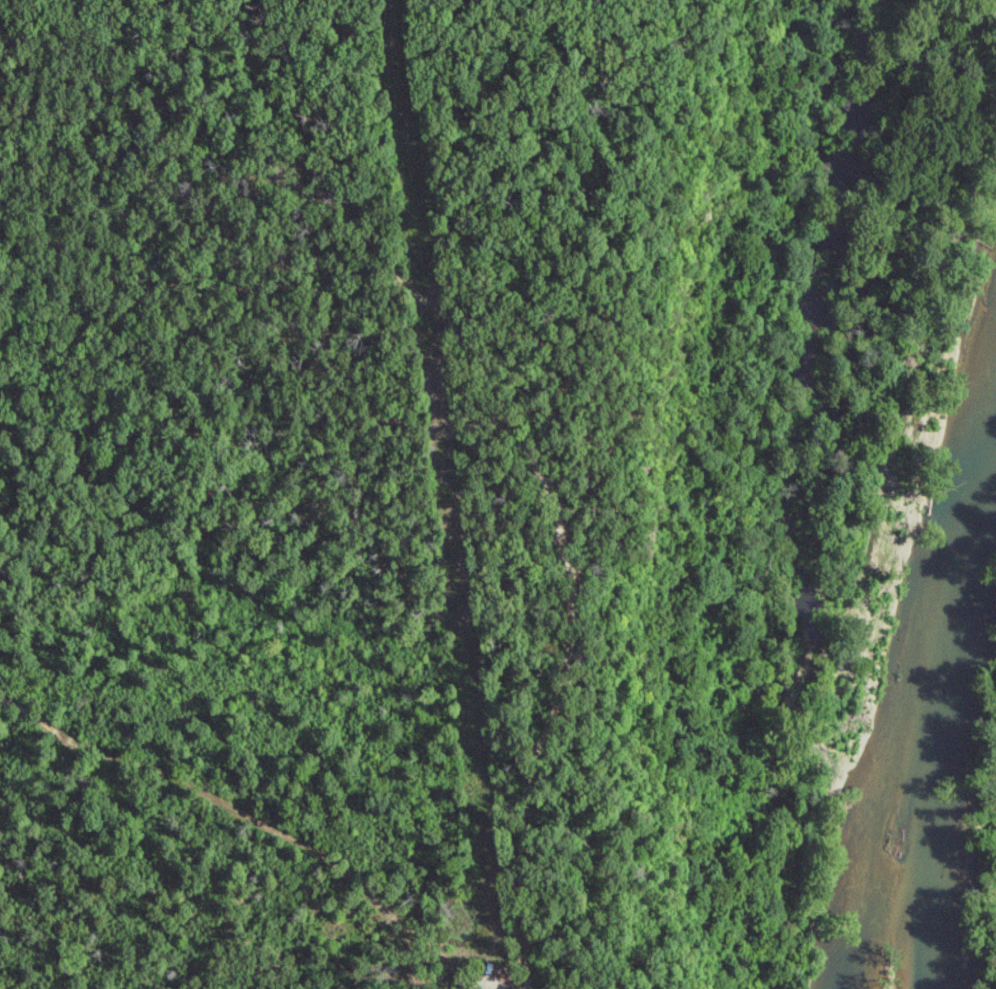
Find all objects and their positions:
road: (513, 437)
river: (957, 680)
road: (255, 825)

